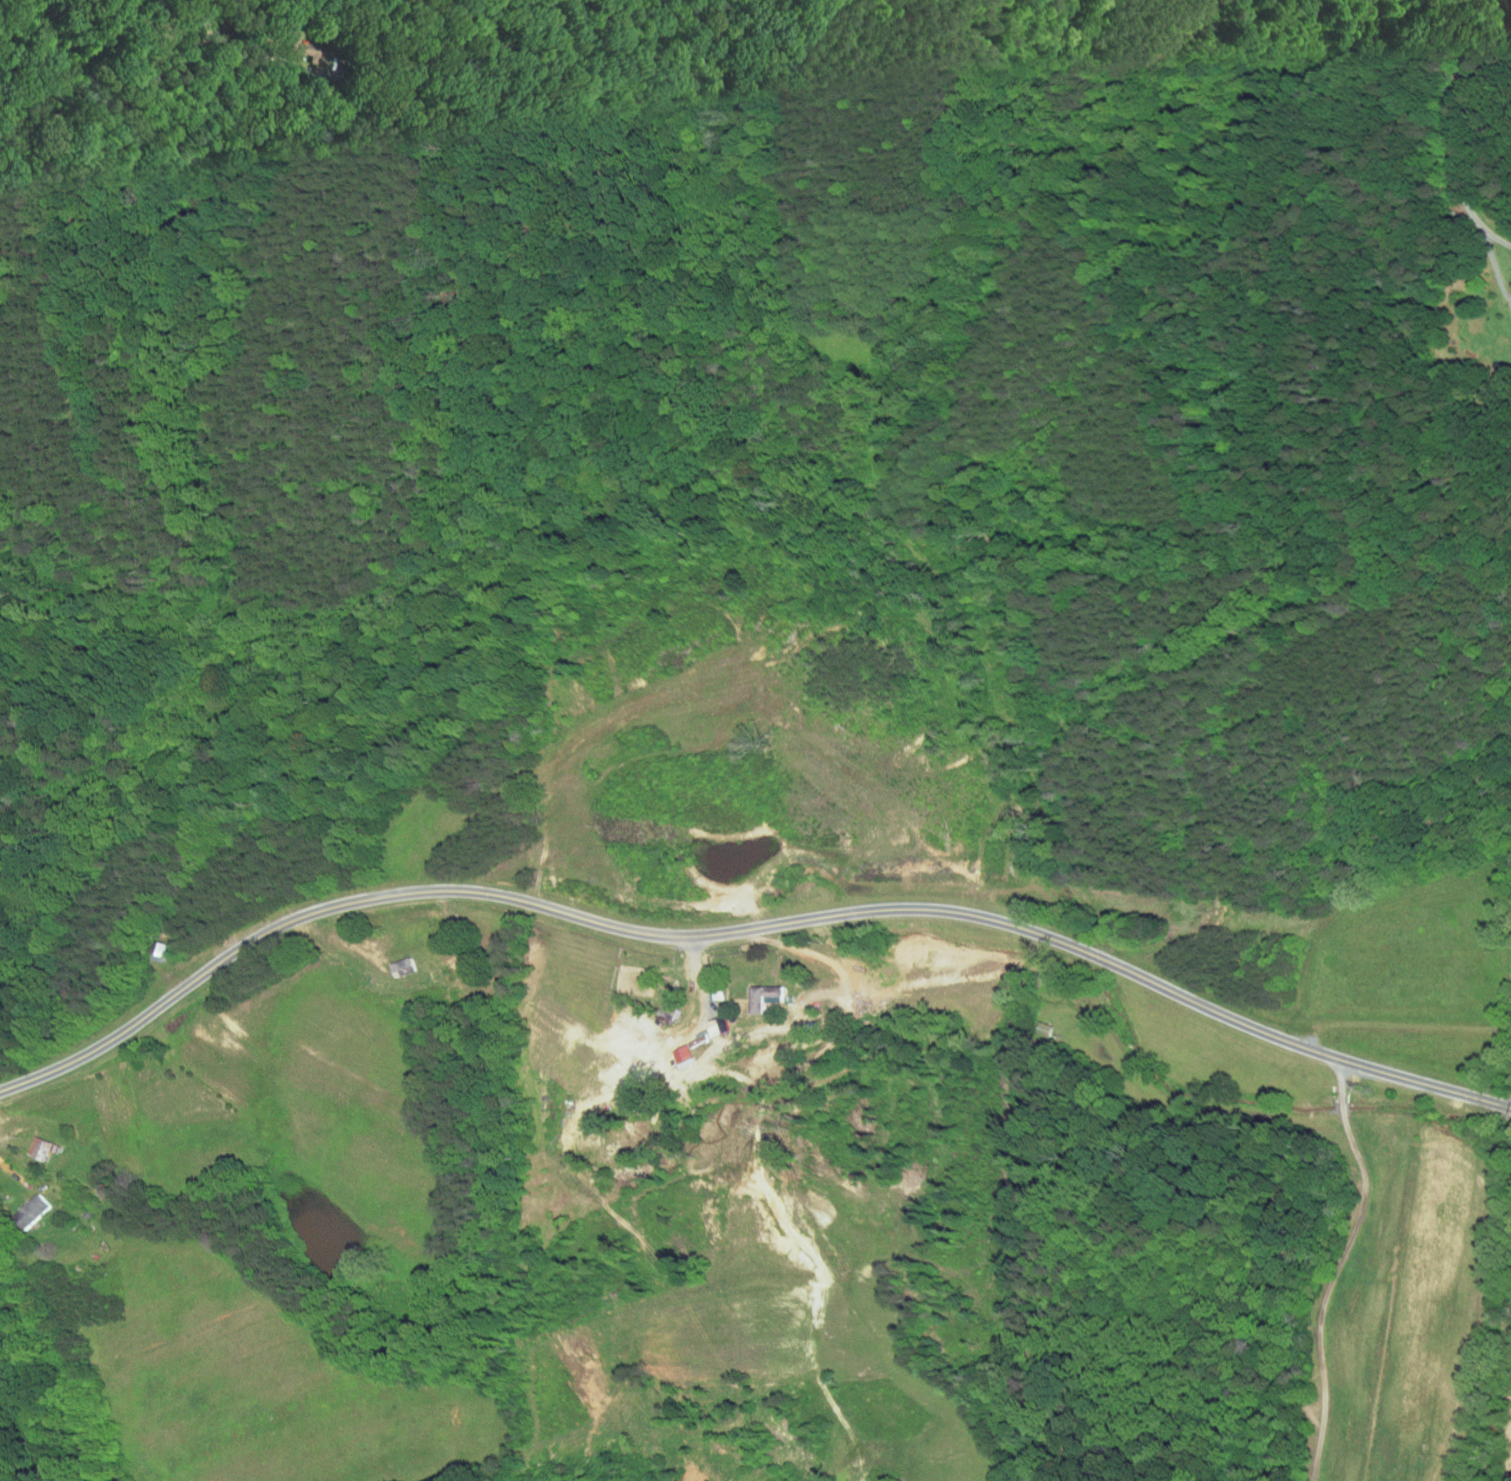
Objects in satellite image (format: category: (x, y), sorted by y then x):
road: (244, 51)
road: (1456, 118)
building: (1508, 284)
building: (1508, 304)
road: (742, 928)
building: (751, 991)
building: (669, 1047)
road: (1509, 1105)
building: (26, 1143)
road: (18, 1174)
building: (19, 1204)
road: (1338, 1266)

